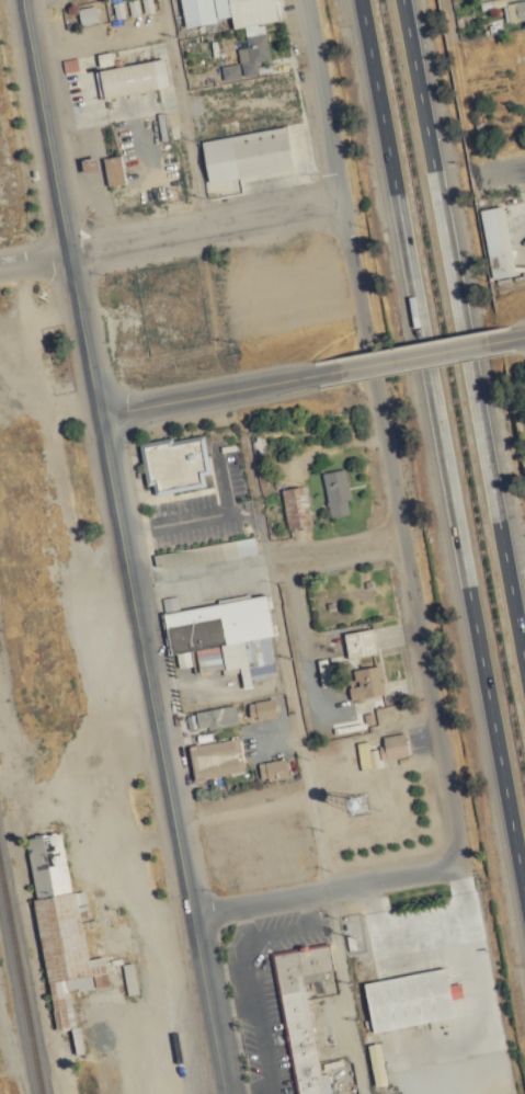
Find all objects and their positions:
building: (87, 14)
building: (254, 36)
building: (133, 77)
road: (320, 104)
road: (183, 116)
building: (247, 153)
building: (113, 169)
road: (503, 173)
road: (203, 232)
building: (498, 241)
road: (33, 262)
road: (516, 338)
road: (463, 340)
road: (412, 357)
road: (206, 397)
road: (441, 453)
building: (174, 464)
building: (335, 491)
building: (296, 505)
road: (398, 534)
road: (121, 547)
building: (221, 550)
road: (263, 565)
building: (225, 637)
building: (359, 642)
building: (367, 683)
building: (261, 708)
building: (216, 717)
road: (296, 728)
building: (395, 744)
building: (217, 759)
building: (273, 768)
road: (324, 892)
building: (60, 926)
railway: (20, 983)
building: (409, 1000)
building: (301, 1013)
building: (379, 1076)

